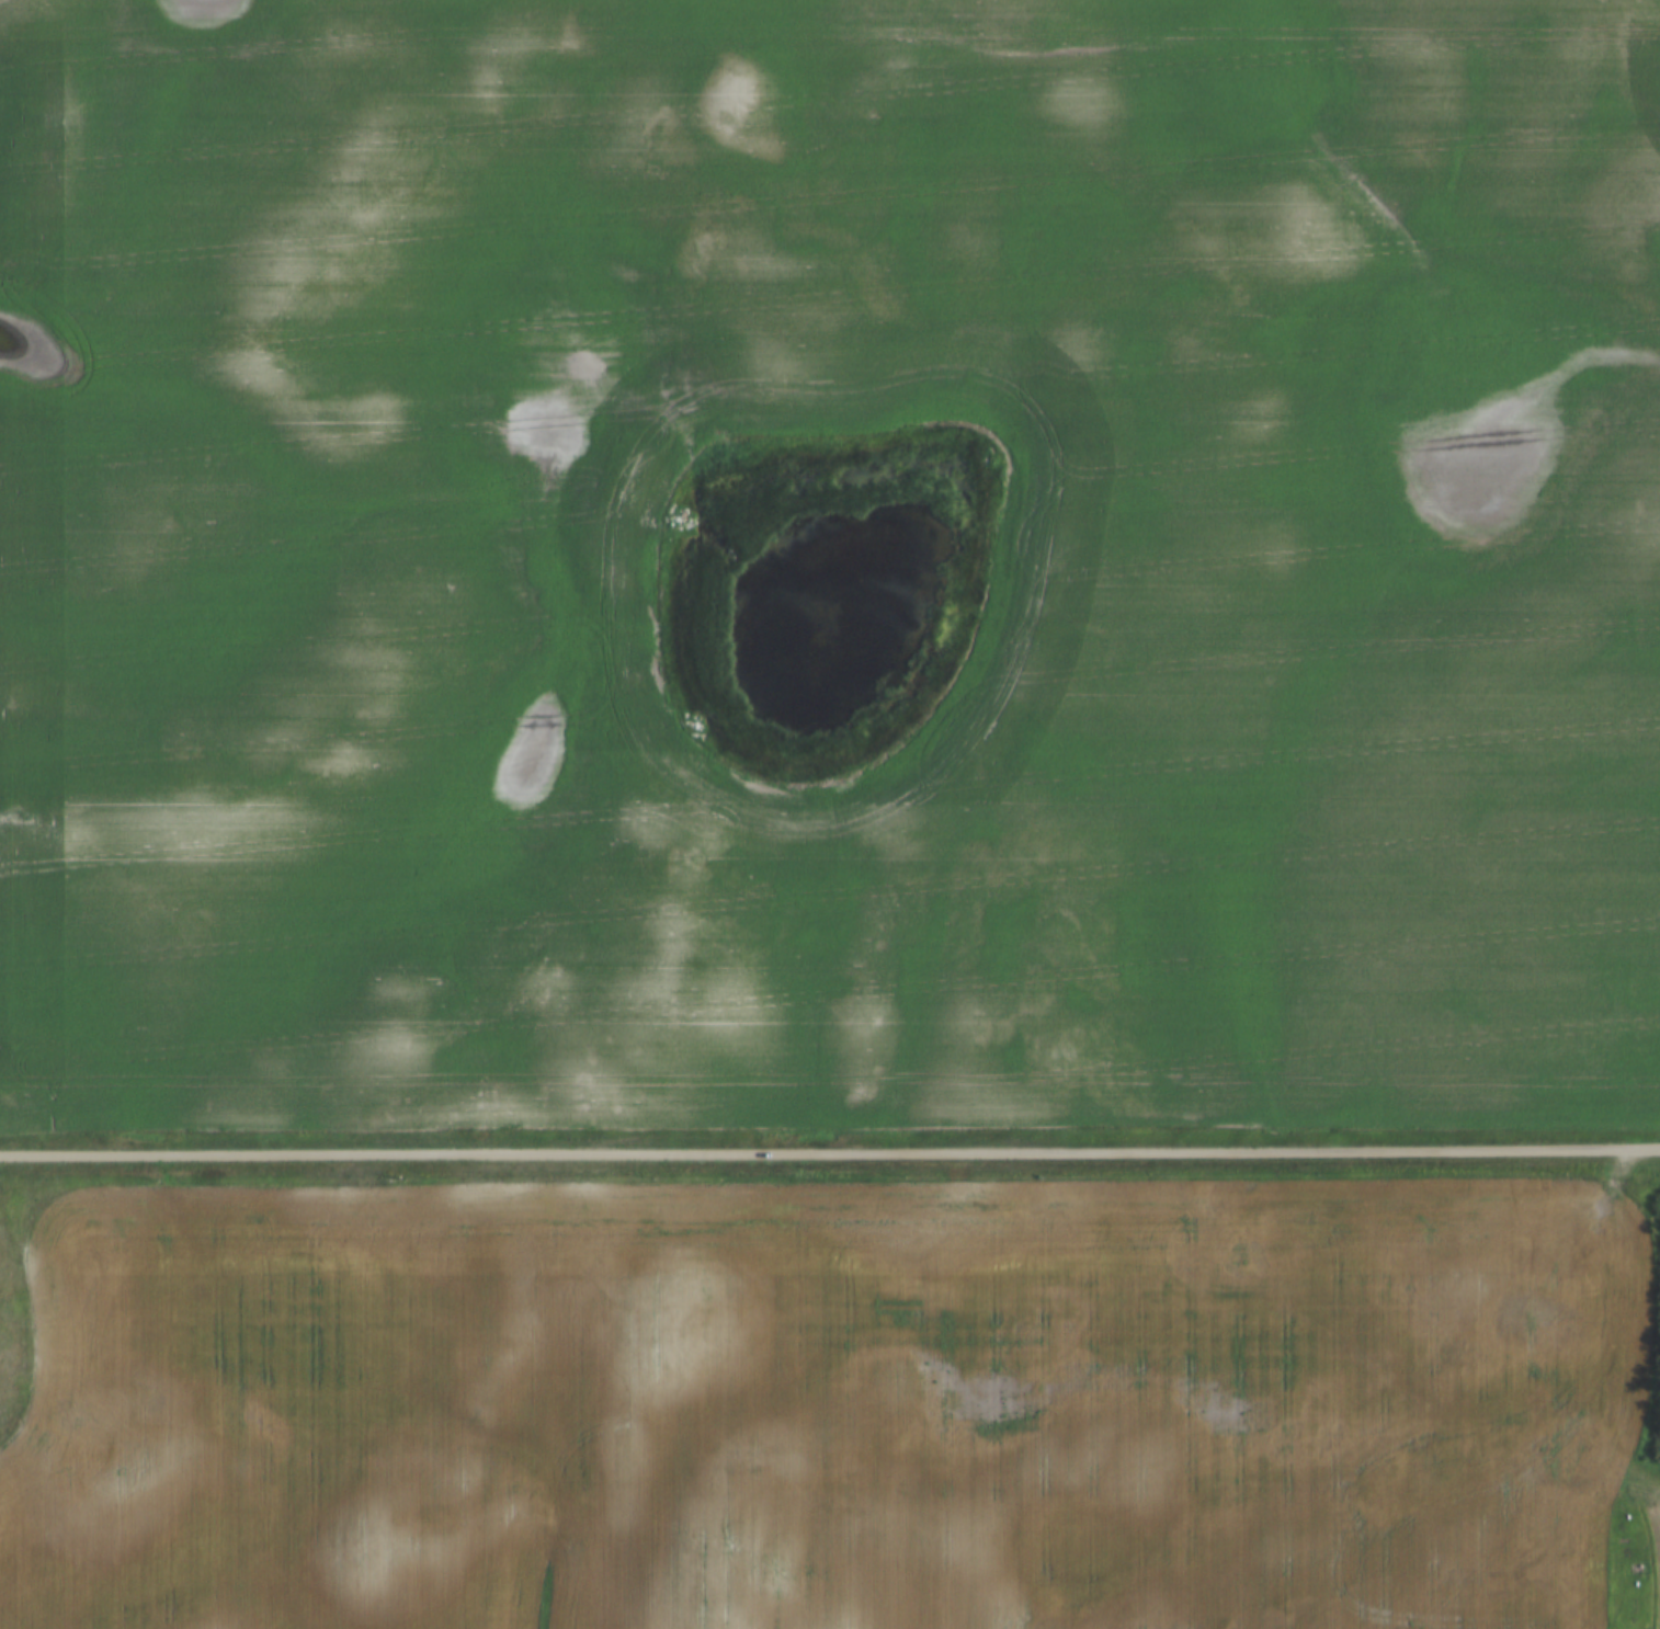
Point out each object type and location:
road: (830, 1153)

